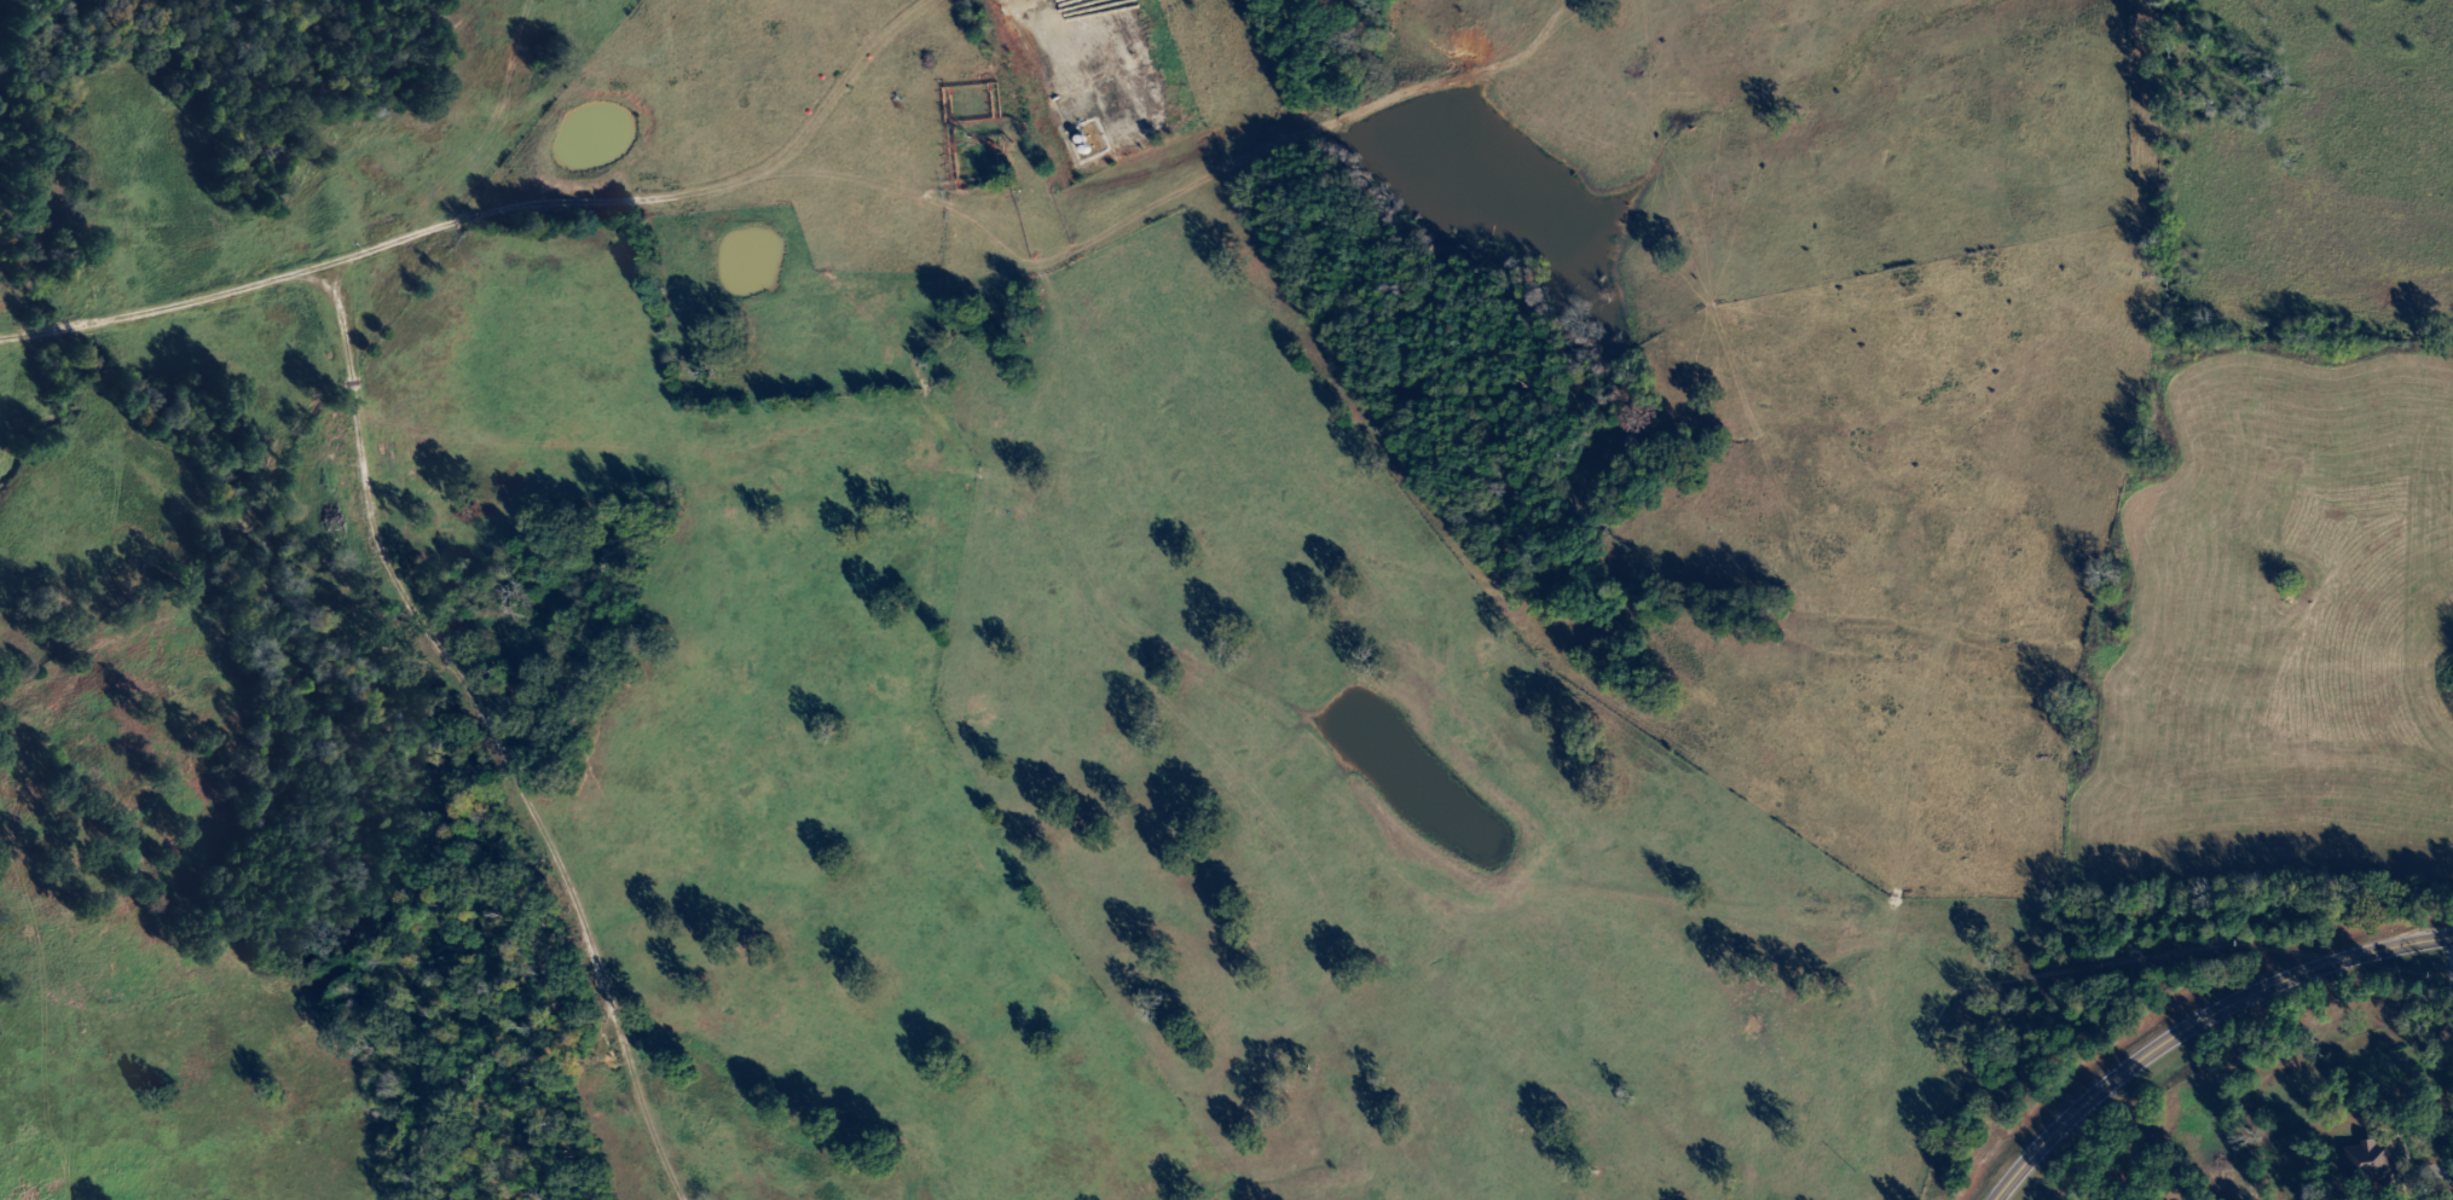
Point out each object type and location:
road: (2198, 1021)
building: (2372, 1160)

